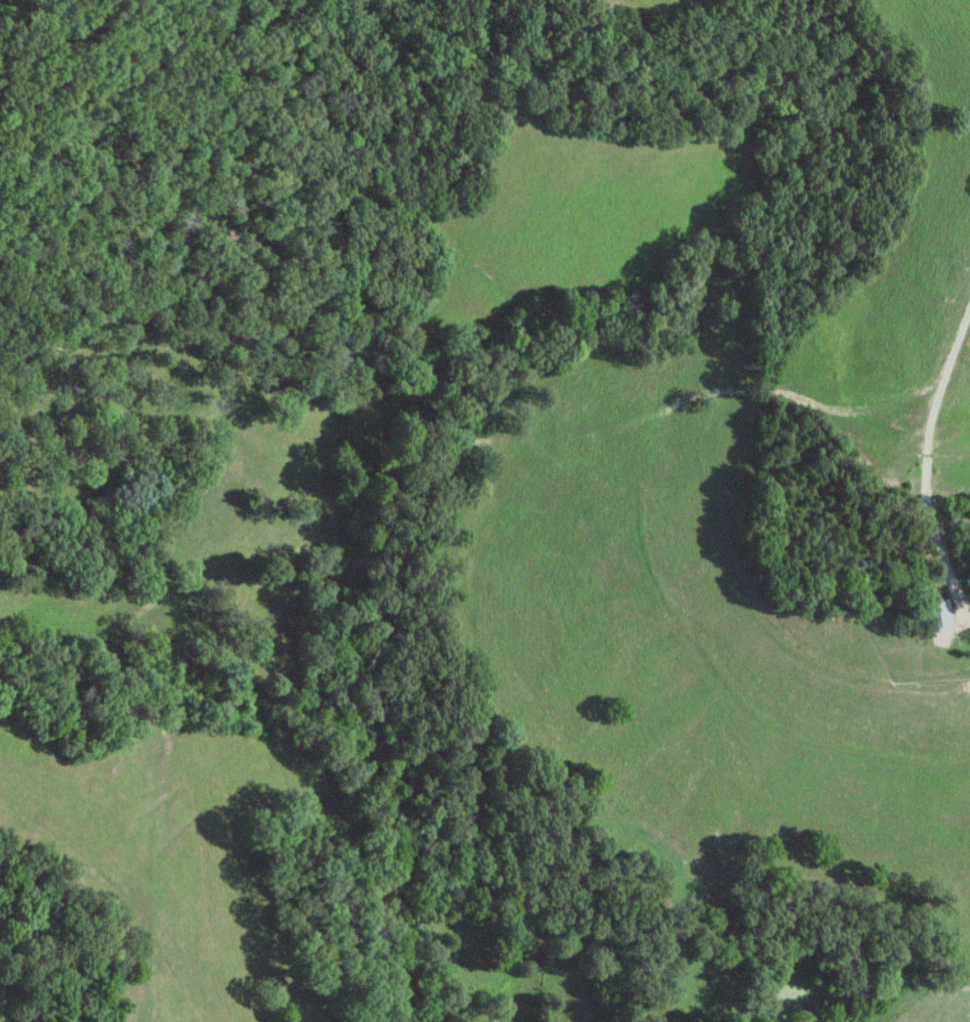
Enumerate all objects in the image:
road: (924, 460)
building: (937, 613)

